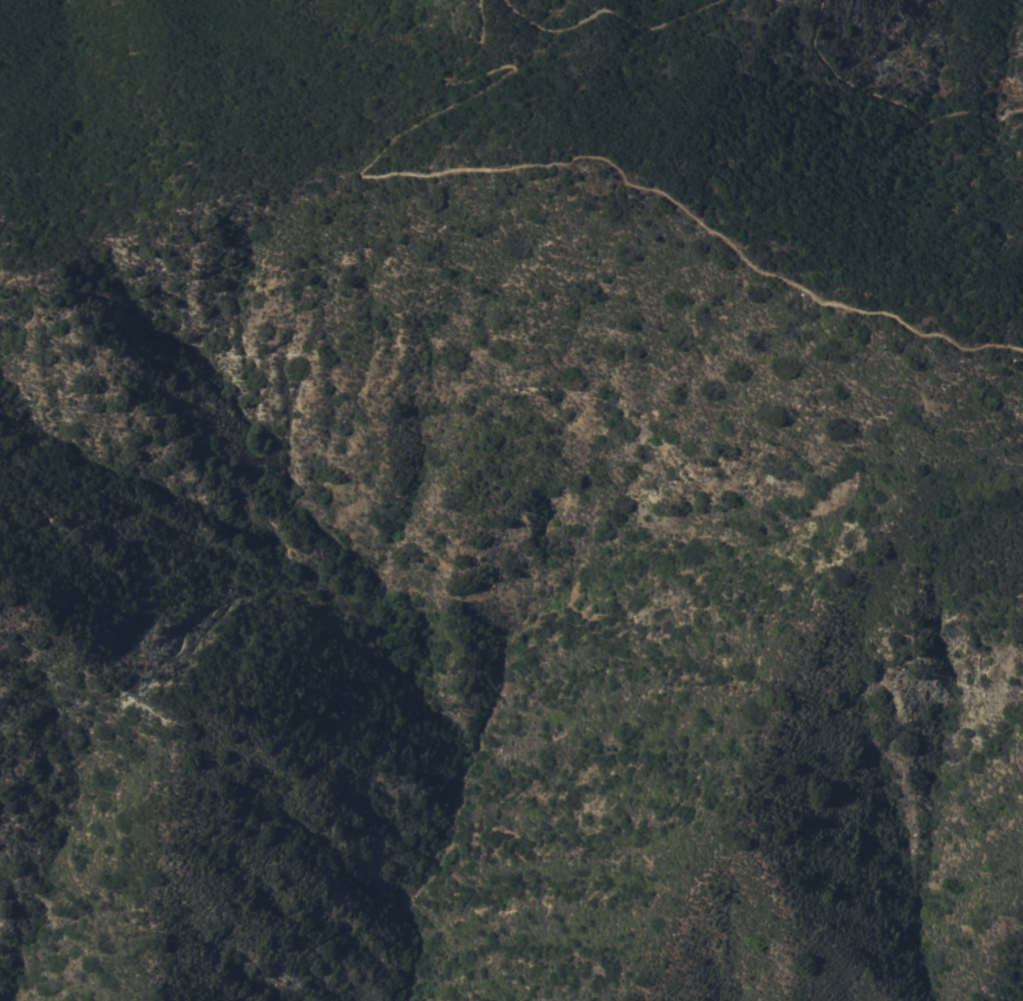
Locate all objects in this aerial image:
road: (608, 13)
road: (887, 103)
road: (549, 165)

